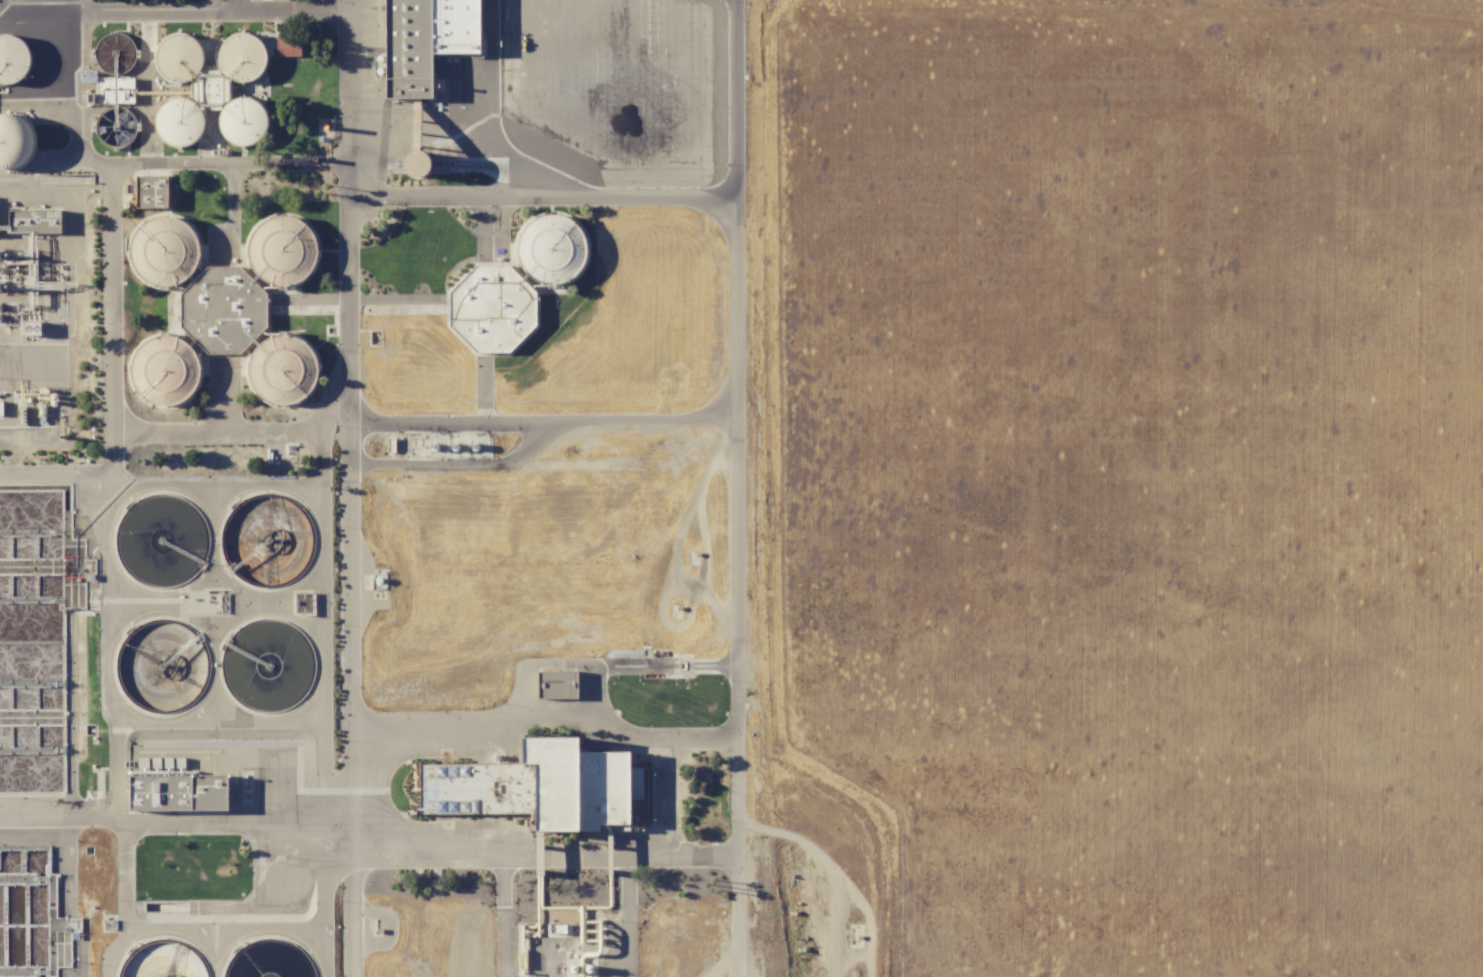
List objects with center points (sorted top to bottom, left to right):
road: (213, 5)
road: (214, 10)
building: (424, 40)
building: (287, 45)
building: (243, 56)
building: (12, 57)
building: (179, 58)
building: (243, 119)
building: (179, 120)
road: (738, 124)
building: (14, 140)
building: (417, 163)
building: (33, 219)
building: (549, 247)
building: (163, 249)
building: (281, 249)
building: (491, 307)
road: (112, 321)
building: (166, 368)
building: (282, 368)
road: (349, 384)
road: (55, 477)
crop: (1126, 487)
wastewater plant: (385, 489)
wastewater plant: (159, 539)
wastewater plant: (267, 540)
road: (739, 612)
wastewater plant: (30, 641)
wastewater plant: (161, 664)
wastewater plant: (266, 664)
building: (556, 683)
road: (547, 715)
road: (207, 724)
building: (537, 785)
road: (106, 813)
road: (257, 821)
wastewater plant: (23, 913)
wastewater plant: (161, 960)
wastewater plant: (268, 960)

